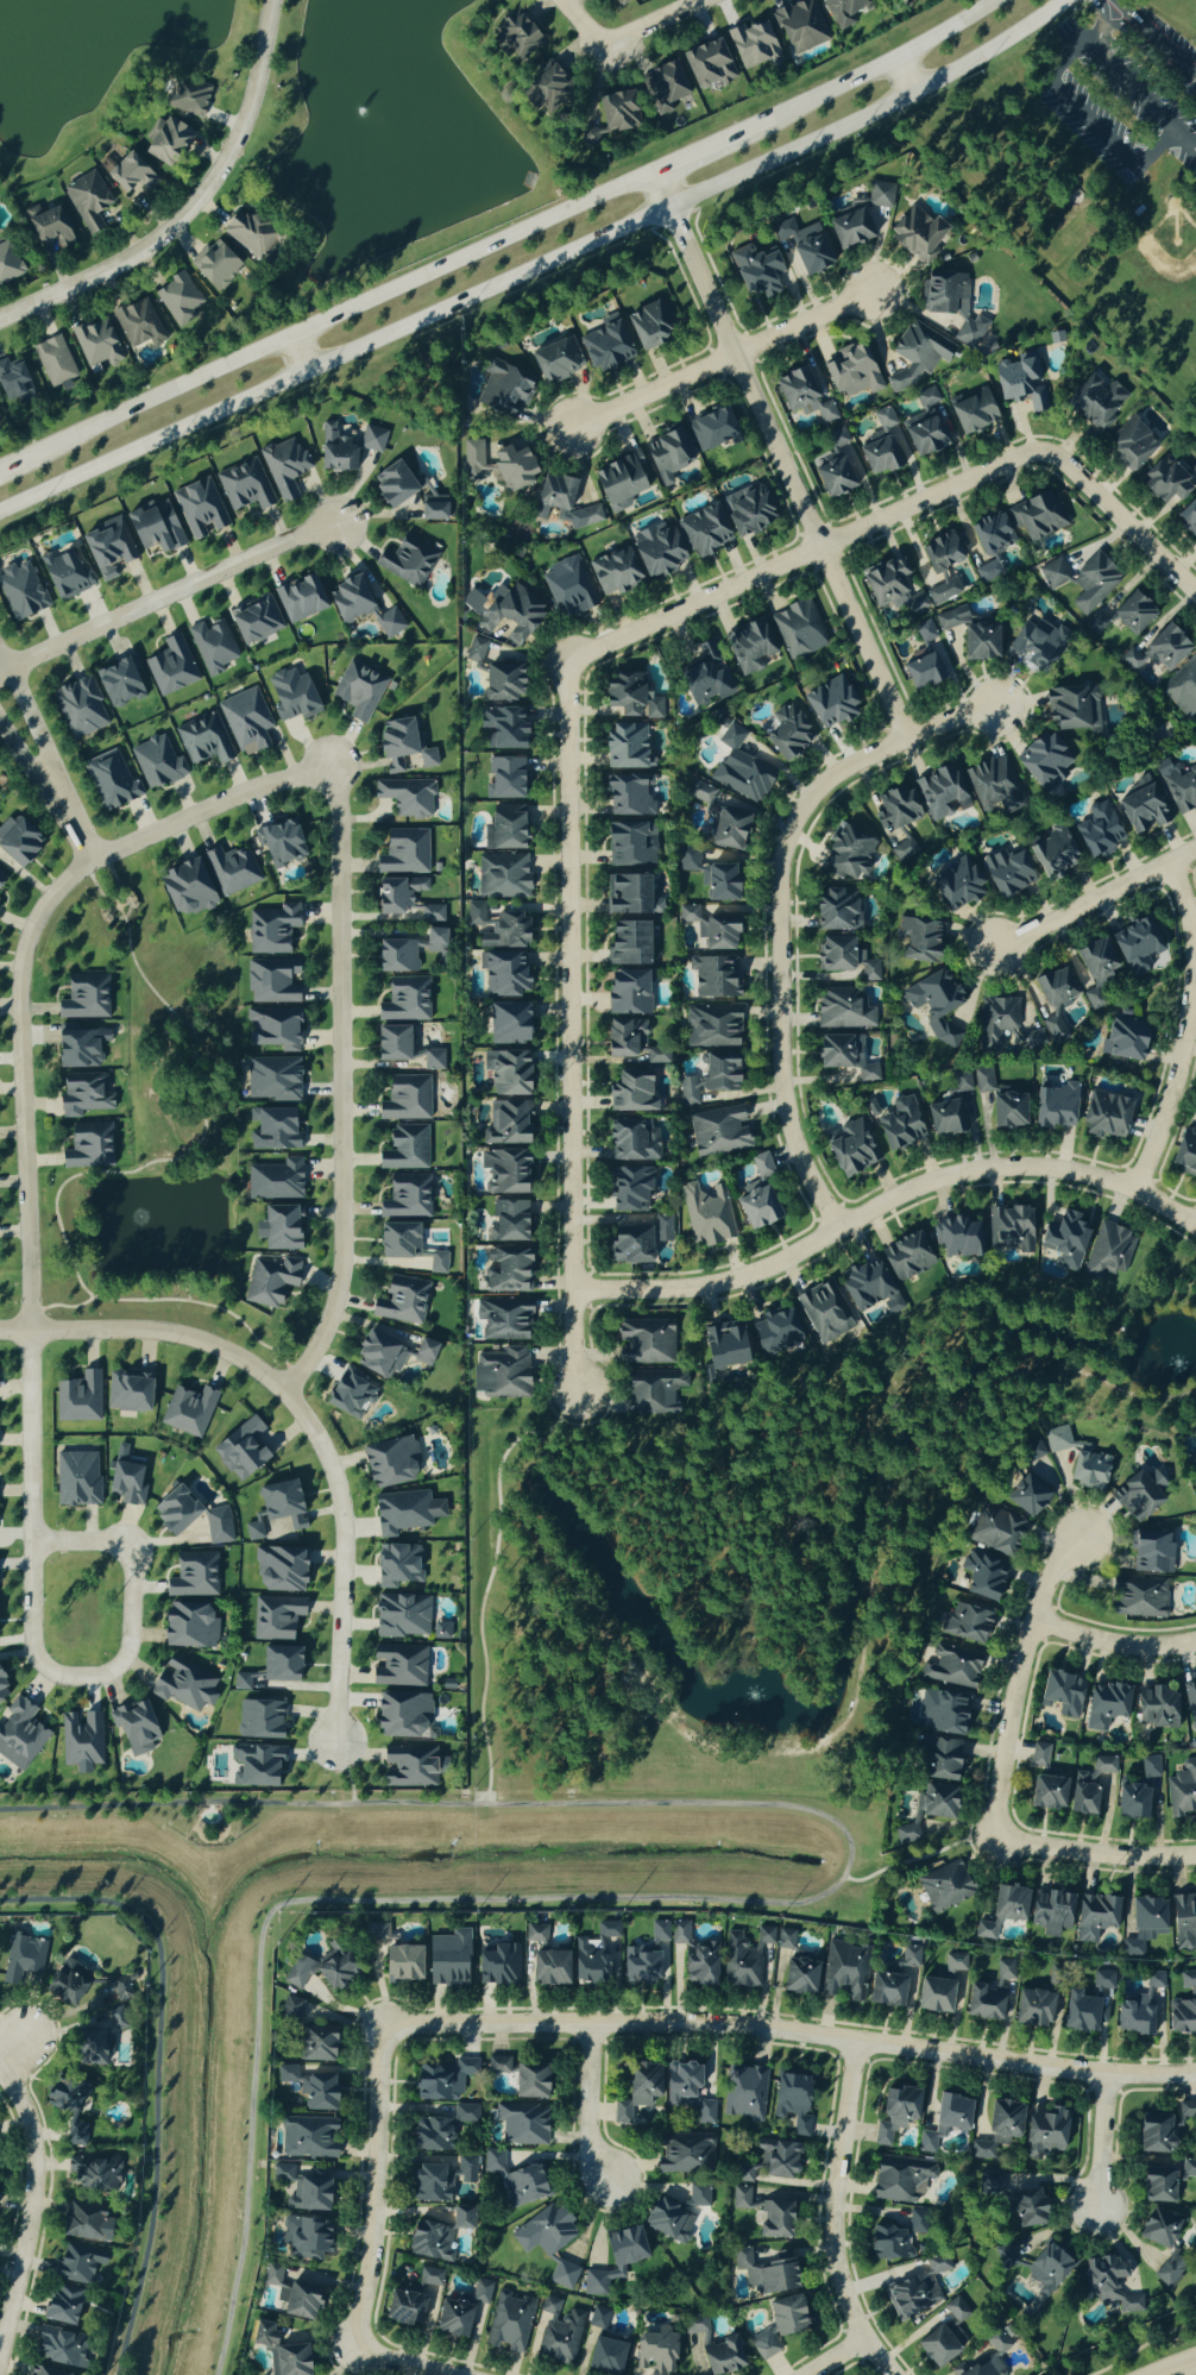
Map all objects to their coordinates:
building: (618, 2)
road: (1127, 8)
building: (842, 11)
road: (1101, 12)
road: (1121, 20)
building: (799, 26)
road: (1097, 31)
building: (514, 34)
road: (627, 38)
building: (753, 44)
road: (1166, 48)
building: (707, 63)
road: (868, 71)
road: (906, 73)
road: (1133, 82)
building: (663, 87)
building: (548, 89)
building: (187, 96)
fountain: (359, 108)
building: (613, 111)
road: (1094, 122)
road: (1186, 134)
building: (166, 142)
road: (697, 153)
building: (130, 174)
building: (87, 200)
road: (193, 206)
building: (858, 216)
building: (49, 227)
building: (247, 234)
building: (918, 234)
building: (802, 249)
building: (7, 263)
road: (536, 263)
building: (215, 265)
building: (758, 271)
building: (178, 299)
park: (1154, 299)
building: (951, 304)
road: (336, 316)
building: (137, 323)
building: (647, 325)
building: (604, 346)
road: (300, 352)
building: (918, 354)
road: (720, 357)
building: (556, 359)
building: (52, 360)
building: (852, 371)
building: (12, 381)
building: (1019, 382)
building: (498, 389)
building: (801, 395)
building: (1096, 404)
building: (971, 411)
building: (885, 419)
building: (924, 427)
building: (712, 428)
building: (1131, 445)
building: (347, 447)
building: (667, 454)
road: (778, 458)
building: (474, 463)
road: (8, 465)
building: (284, 466)
building: (512, 467)
building: (833, 477)
building: (619, 480)
building: (1167, 482)
building: (391, 484)
building: (244, 486)
building: (561, 503)
building: (433, 507)
building: (199, 508)
building: (747, 510)
building: (1038, 516)
building: (1188, 517)
road: (1122, 520)
building: (153, 528)
building: (704, 530)
building: (990, 533)
building: (106, 548)
building: (656, 549)
road: (808, 551)
building: (407, 560)
building: (982, 563)
building: (938, 567)
building: (613, 572)
building: (64, 576)
building: (1083, 580)
building: (892, 586)
building: (567, 589)
building: (20, 591)
road: (168, 597)
building: (298, 598)
building: (350, 598)
building: (504, 611)
building: (1133, 612)
building: (253, 620)
building: (389, 623)
building: (799, 628)
building: (925, 632)
building: (970, 635)
building: (1033, 643)
building: (212, 646)
building: (749, 646)
building: (476, 651)
building: (1156, 653)
building: (170, 666)
building: (921, 672)
building: (704, 679)
building: (117, 683)
building: (502, 683)
building: (1183, 689)
building: (358, 690)
building: (291, 696)
building: (630, 696)
building: (830, 704)
building: (78, 708)
building: (1070, 709)
building: (246, 721)
road: (957, 722)
building: (504, 728)
building: (788, 734)
building: (202, 740)
building: (402, 746)
building: (624, 747)
road: (46, 755)
building: (1044, 761)
building: (156, 762)
building: (504, 779)
building: (745, 779)
building: (109, 780)
building: (994, 785)
building: (1179, 786)
road: (46, 791)
building: (940, 793)
building: (629, 796)
building: (701, 796)
building: (407, 798)
building: (894, 808)
building: (1141, 810)
building: (504, 829)
building: (726, 829)
building: (1099, 831)
building: (17, 843)
building: (279, 843)
building: (630, 844)
building: (902, 850)
building: (403, 853)
building: (1053, 854)
building: (724, 856)
building: (848, 856)
building: (231, 871)
building: (1006, 873)
building: (502, 877)
building: (1, 879)
building: (719, 884)
building: (956, 885)
building: (185, 887)
building: (396, 894)
building: (625, 896)
road: (1090, 897)
building: (432, 913)
building: (474, 915)
building: (709, 929)
building: (271, 930)
building: (505, 934)
building: (915, 941)
building: (1135, 947)
building: (407, 951)
road: (780, 954)
building: (835, 955)
building: (1093, 968)
building: (870, 972)
building: (503, 974)
building: (716, 978)
building: (271, 981)
building: (1053, 987)
building: (627, 993)
building: (84, 998)
building: (405, 1000)
building: (934, 1006)
building: (843, 1010)
building: (1047, 1020)
building: (508, 1024)
building: (999, 1024)
road: (1183, 1025)
road: (569, 1026)
building: (711, 1026)
building: (275, 1029)
building: (1125, 1039)
building: (390, 1044)
building: (628, 1044)
building: (80, 1050)
building: (843, 1056)
building: (433, 1060)
building: (506, 1073)
building: (711, 1077)
building: (272, 1080)
building: (959, 1085)
road: (340, 1086)
building: (632, 1092)
building: (83, 1094)
building: (405, 1099)
building: (1001, 1101)
building: (1055, 1106)
building: (1106, 1116)
building: (945, 1119)
building: (506, 1124)
building: (900, 1125)
park: (156, 1126)
building: (273, 1130)
building: (718, 1132)
building: (631, 1142)
building: (88, 1146)
building: (405, 1149)
building: (852, 1149)
building: (1184, 1152)
building: (504, 1173)
building: (276, 1181)
building: (629, 1190)
building: (757, 1196)
building: (407, 1198)
road: (883, 1202)
building: (707, 1214)
building: (506, 1223)
building: (1012, 1227)
building: (279, 1229)
building: (957, 1238)
building: (1064, 1240)
building: (397, 1242)
building: (634, 1242)
building: (1108, 1251)
building: (906, 1258)
building: (438, 1264)
building: (508, 1271)
road: (27, 1274)
building: (269, 1281)
building: (868, 1288)
building: (401, 1301)
building: (824, 1311)
building: (503, 1320)
building: (775, 1331)
building: (644, 1343)
building: (724, 1346)
building: (390, 1355)
building: (501, 1375)
building: (126, 1393)
building: (654, 1393)
building: (350, 1395)
building: (77, 1399)
building: (188, 1412)
road: (303, 1415)
building: (1195, 1435)
building: (240, 1450)
building: (389, 1463)
building: (1088, 1471)
building: (76, 1479)
building: (126, 1483)
building: (1027, 1496)
building: (1138, 1496)
building: (281, 1504)
building: (174, 1512)
building: (404, 1513)
building: (218, 1527)
building: (254, 1529)
building: (996, 1532)
building: (1151, 1554)
building: (397, 1566)
building: (279, 1571)
building: (194, 1576)
building: (983, 1577)
road: (487, 1579)
building: (1138, 1600)
building: (401, 1616)
building: (276, 1619)
building: (965, 1625)
building: (188, 1627)
building: (440, 1632)
road: (1112, 1642)
building: (279, 1665)
building: (398, 1666)
building: (951, 1669)
road: (1018, 1680)
building: (241, 1682)
building: (184, 1684)
building: (2, 1692)
building: (1060, 1695)
building: (1191, 1704)
building: (1104, 1705)
building: (1157, 1709)
building: (944, 1713)
building: (403, 1716)
building: (259, 1721)
building: (134, 1727)
building: (20, 1735)
building: (81, 1742)
building: (1039, 1754)
building: (937, 1764)
building: (1104, 1766)
building: (256, 1767)
building: (408, 1767)
building: (1151, 1767)
building: (1182, 1791)
building: (1046, 1792)
building: (1083, 1798)
building: (936, 1802)
building: (1131, 1802)
building: (906, 1834)
road: (1095, 1853)
road: (918, 1859)
building: (945, 1886)
road: (772, 1904)
building: (1001, 1910)
building: (1050, 1911)
building: (1094, 1916)
building: (1184, 1922)
building: (1144, 1924)
building: (679, 1933)
building: (535, 1934)
building: (785, 1940)
building: (592, 1954)
building: (21, 1958)
building: (745, 1958)
building: (908, 1959)
building: (447, 1960)
building: (955, 1962)
building: (497, 1964)
building: (548, 1968)
building: (1005, 1969)
building: (319, 1971)
building: (844, 1972)
building: (799, 1977)
building: (67, 1981)
building: (1188, 1983)
building: (1101, 1985)
building: (886, 1990)
building: (934, 1996)
building: (984, 2003)
building: (1032, 2009)
building: (1139, 2009)
building: (290, 2010)
building: (1078, 2012)
building: (1181, 2016)
road: (792, 2034)
building: (316, 2043)
road: (12, 2047)
building: (89, 2048)
road: (156, 2073)
building: (520, 2076)
building: (440, 2080)
building: (309, 2088)
building: (637, 2091)
building: (743, 2092)
building: (687, 2093)
building: (59, 2096)
building: (792, 2100)
road: (590, 2103)
building: (895, 2113)
building: (1185, 2116)
building: (945, 2120)
building: (522, 2124)
building: (441, 2129)
building: (997, 2129)
building: (1044, 2131)
building: (73, 2132)
building: (1153, 2134)
building: (308, 2137)
road: (1101, 2141)
building: (686, 2154)
building: (776, 2157)
building: (492, 2162)
building: (1189, 2169)
building: (93, 2173)
building: (743, 2176)
building: (441, 2180)
building: (900, 2180)
building: (524, 2185)
building: (1156, 2185)
building: (990, 2186)
road: (378, 2187)
building: (302, 2189)
building: (698, 2195)
building: (741, 2198)
building: (1028, 2209)
road: (42, 2213)
road: (838, 2213)
building: (460, 2218)
building: (667, 2220)
building: (774, 2220)
building: (914, 2220)
building: (86, 2224)
building: (1158, 2228)
building: (543, 2231)
building: (304, 2236)
building: (428, 2242)
building: (888, 2243)
building: (1005, 2256)
building: (615, 2261)
building: (77, 2262)
building: (938, 2264)
building: (1046, 2269)
building: (1169, 2272)
building: (762, 2273)
building: (562, 2275)
building: (428, 2277)
building: (1108, 2285)
building: (481, 2292)
building: (292, 2294)
building: (913, 2295)
building: (61, 2305)
building: (402, 2307)
building: (550, 2308)
building: (956, 2310)
building: (452, 2318)
building: (598, 2319)
building: (509, 2324)
building: (695, 2325)
building: (779, 2325)
building: (262, 2335)
building: (560, 2339)
building: (936, 2346)
building: (58, 2350)
building: (655, 2352)
building: (992, 2356)
building: (605, 2357)
building: (720, 2357)
road: (833, 2357)
road: (409, 2360)
building: (288, 2361)
road: (1177, 2368)
building: (45, 2371)

